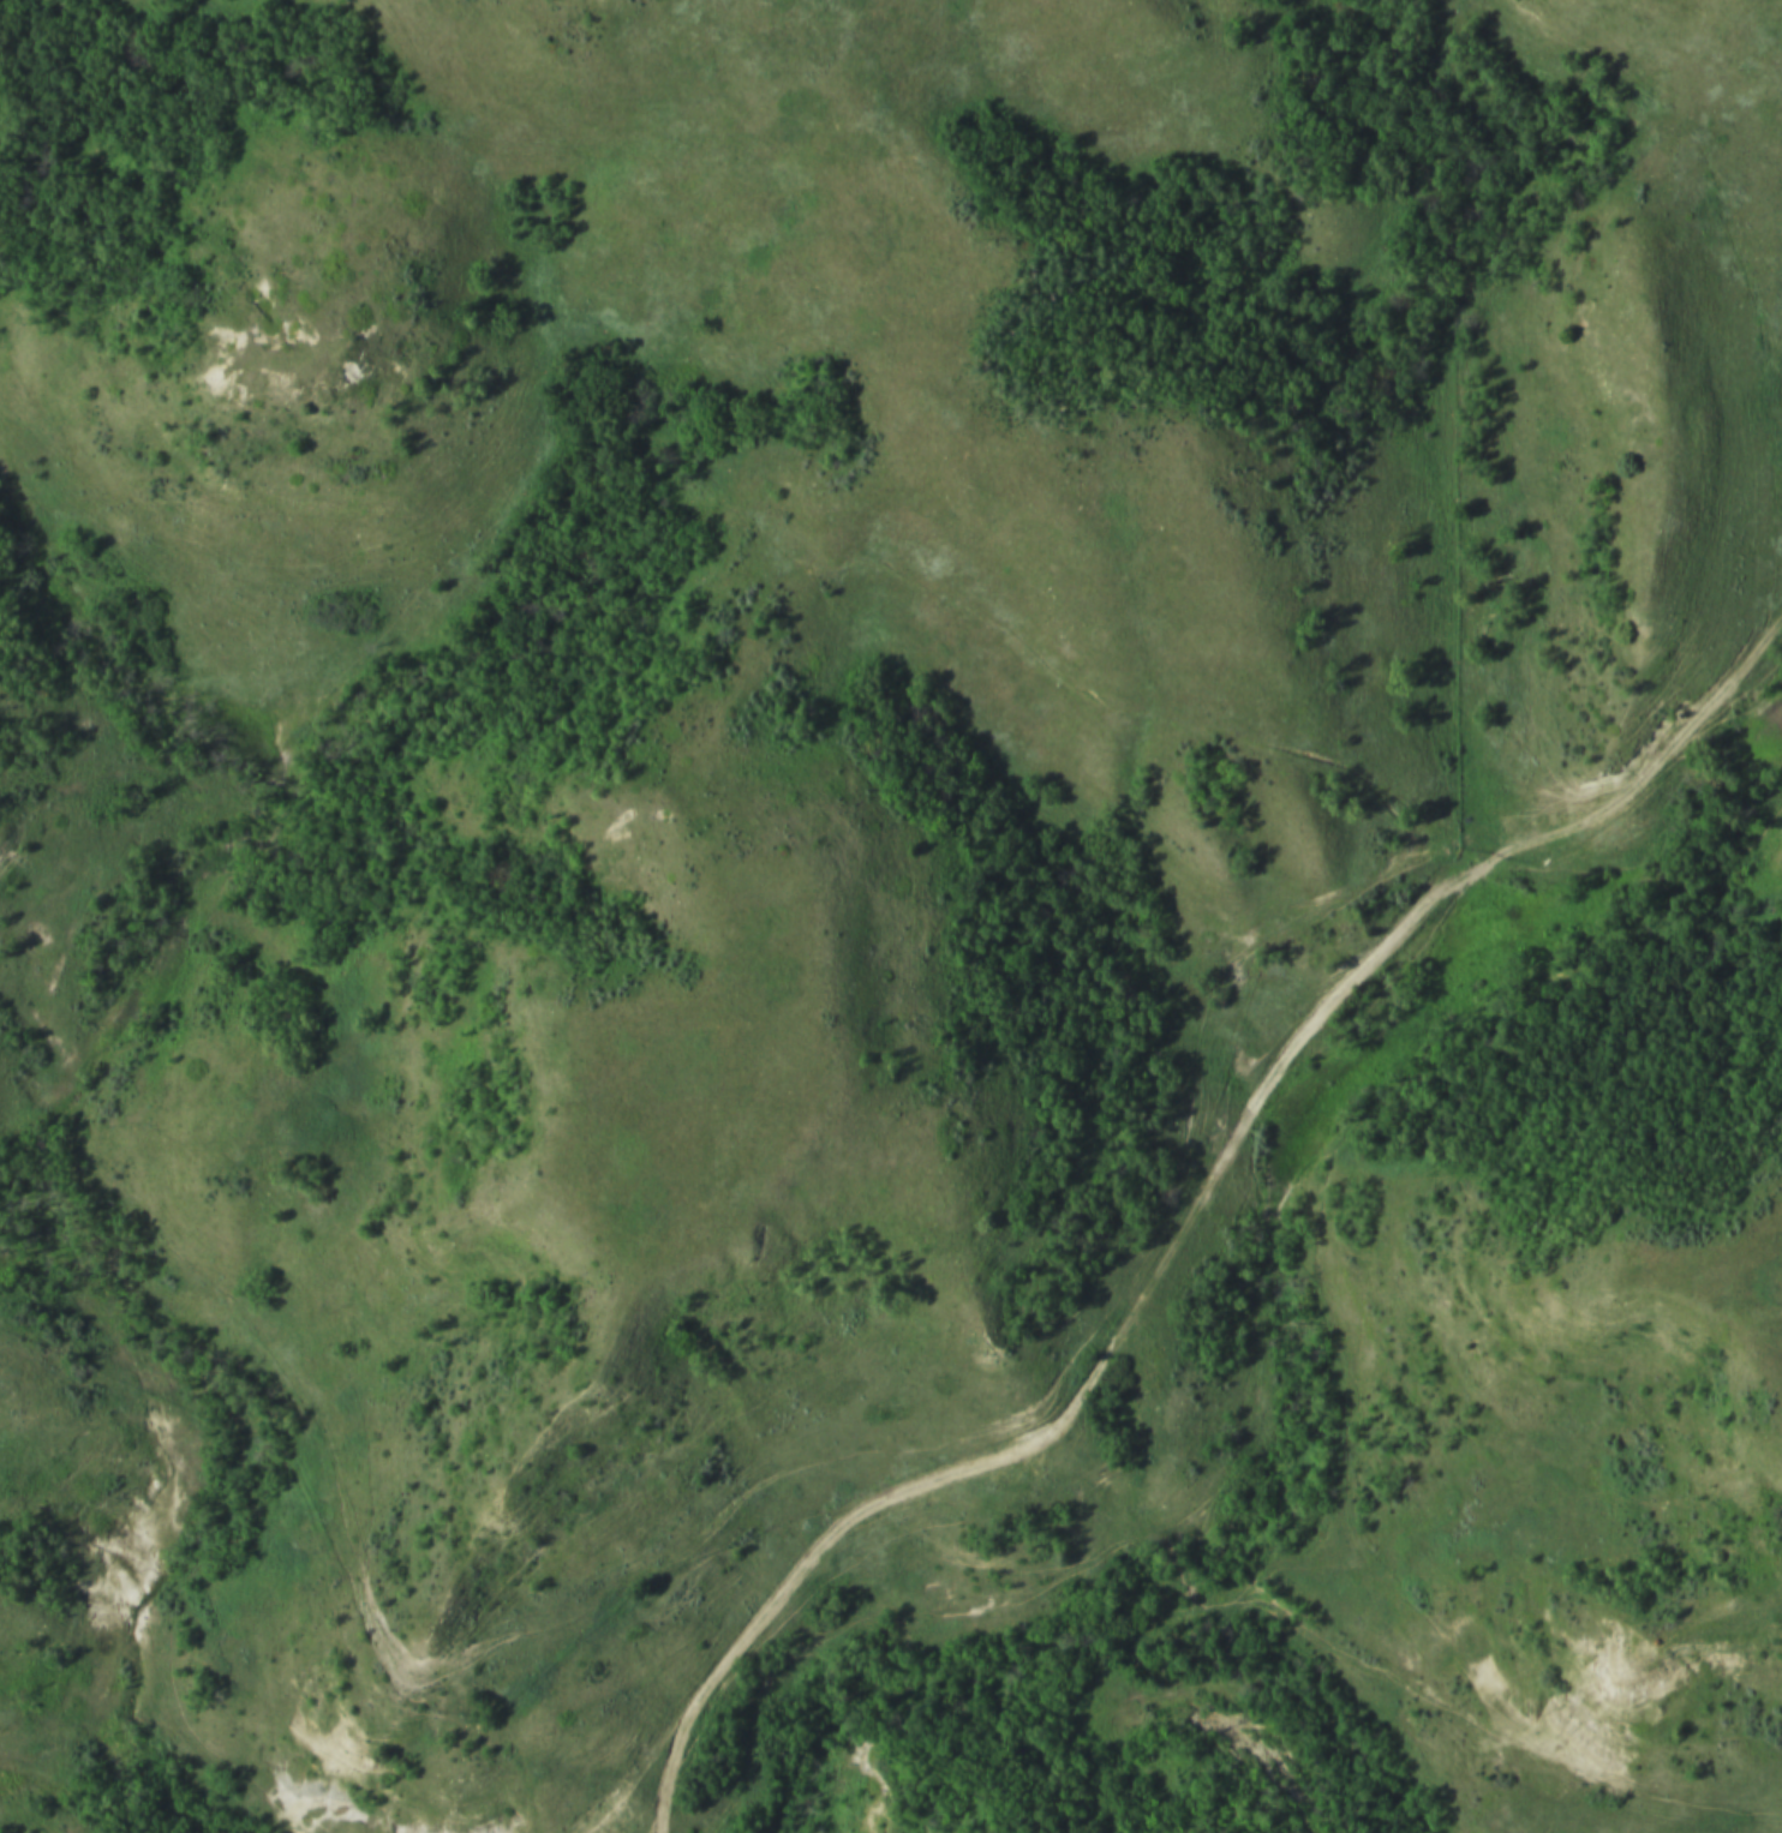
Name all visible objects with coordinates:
road: (1182, 1238)

